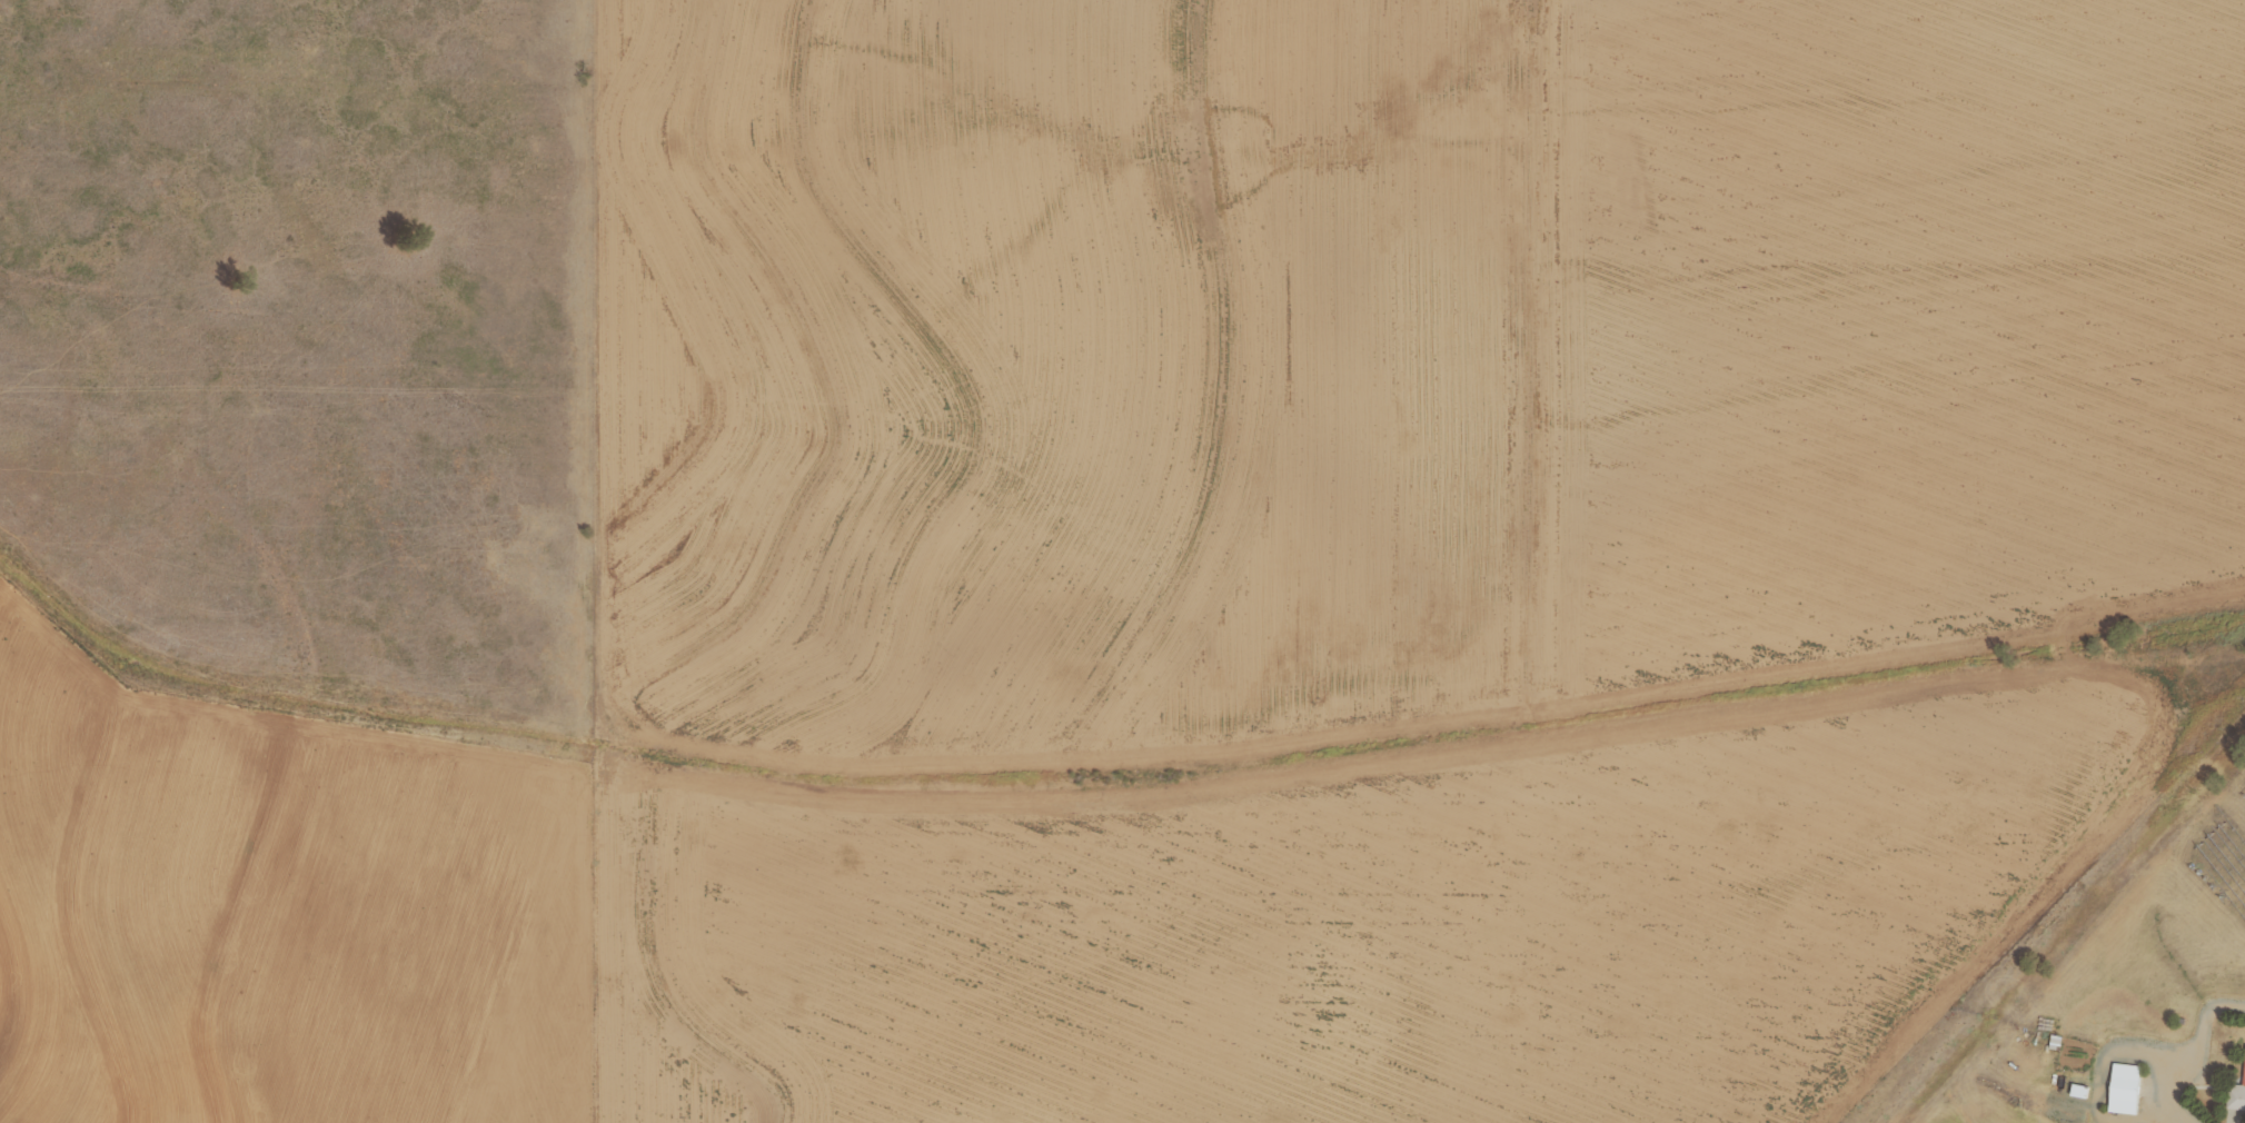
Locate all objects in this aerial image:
road: (2191, 1049)
building: (2123, 1087)
building: (2236, 1091)
road: (2184, 1121)

